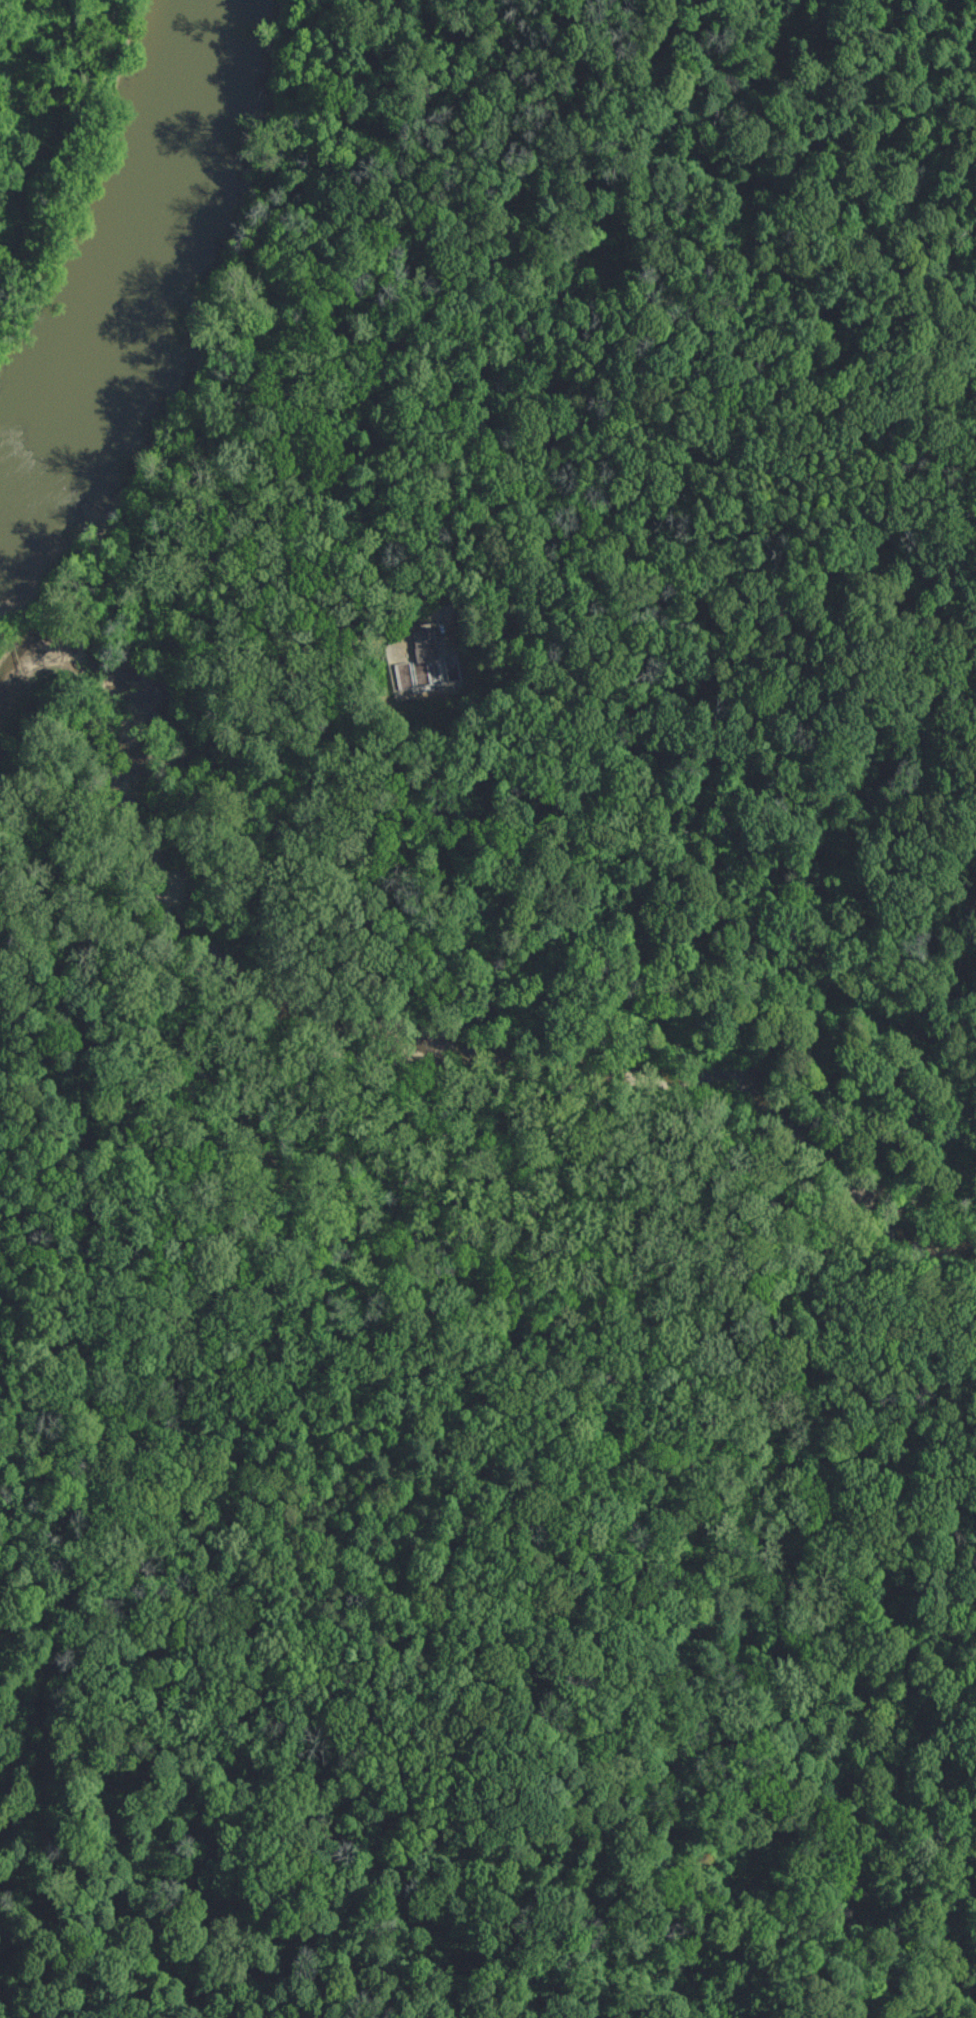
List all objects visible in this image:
river: (159, 255)
building: (652, 369)
road: (680, 394)
road: (173, 496)
road: (190, 502)
road: (684, 526)
building: (424, 644)
road: (437, 712)
road: (122, 993)
road: (928, 1222)
road: (801, 1231)
road: (849, 1334)
road: (896, 1796)

